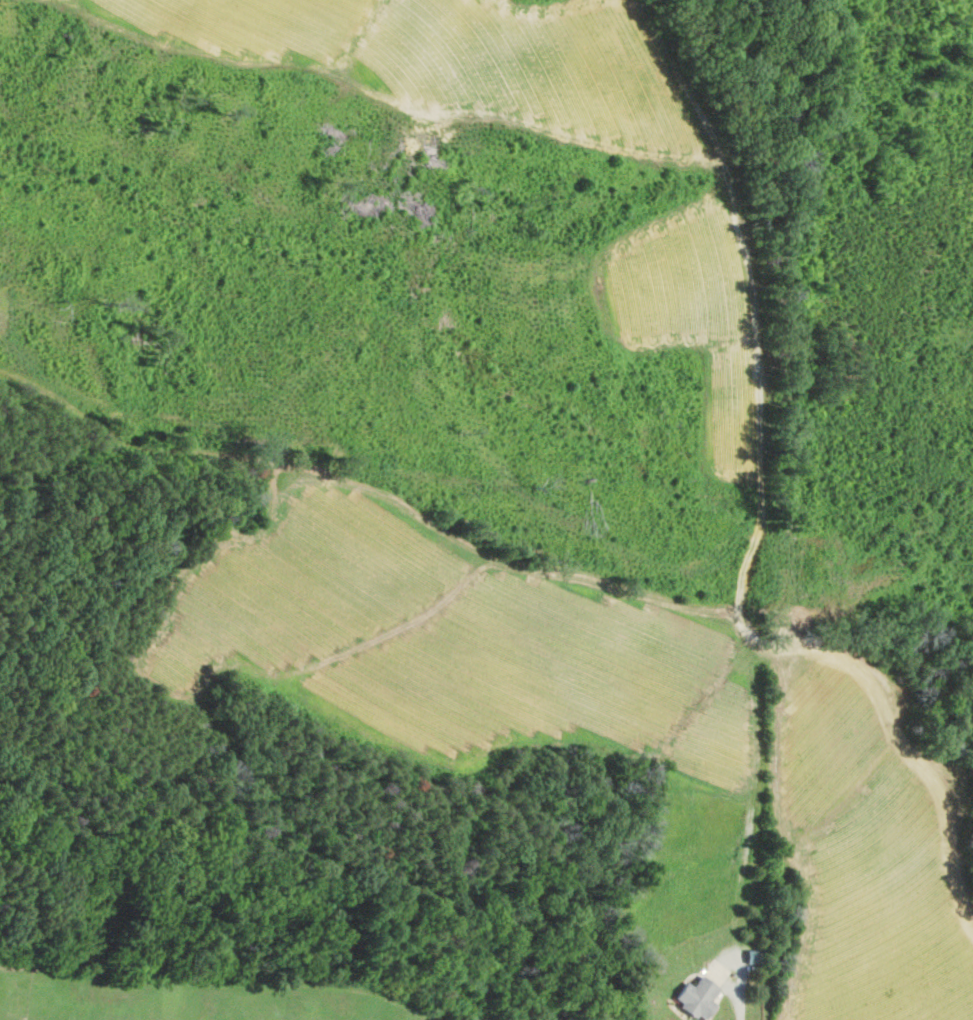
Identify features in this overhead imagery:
building: (753, 955)
building: (697, 996)
road: (731, 1015)

